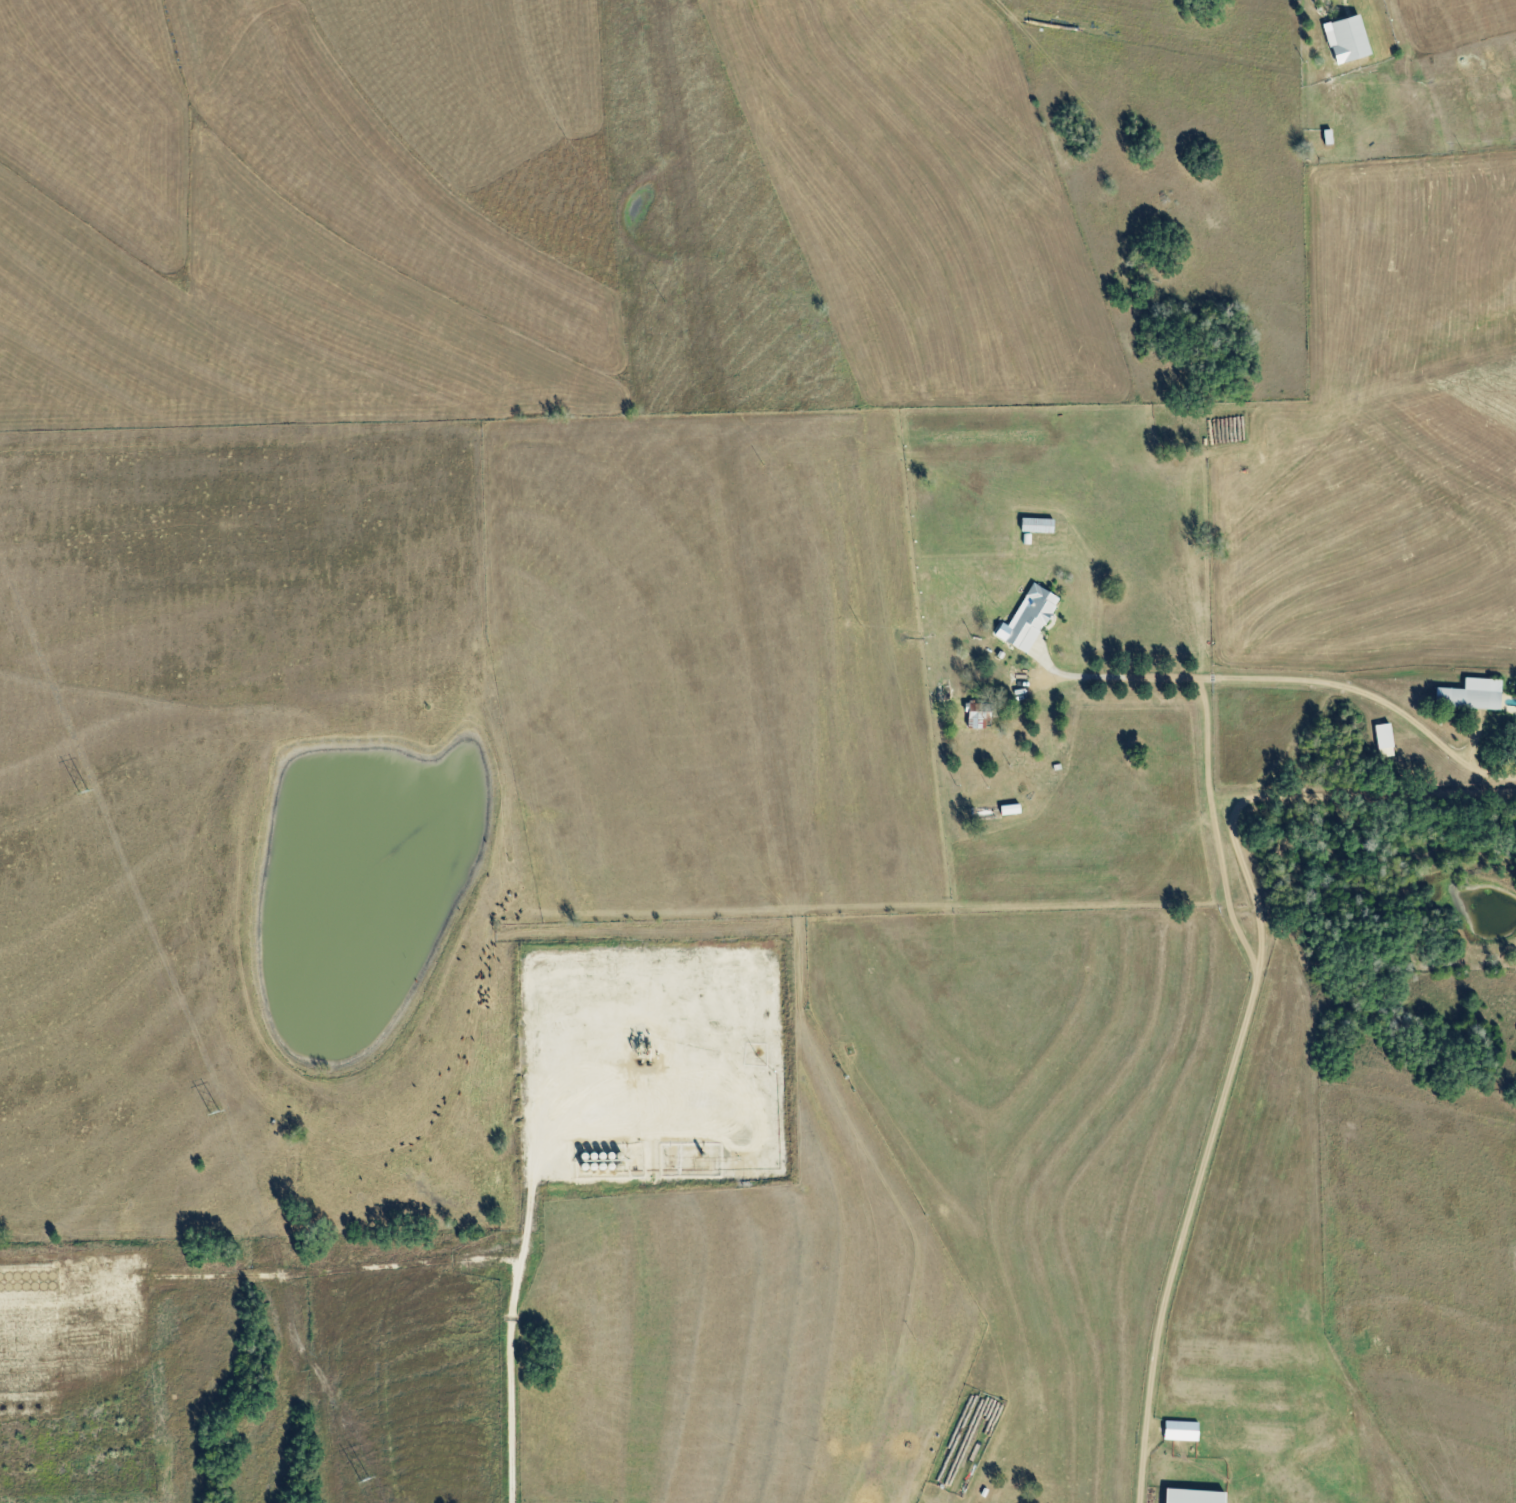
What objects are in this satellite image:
building: (1348, 40)
building: (1028, 619)
road: (1286, 677)
building: (1471, 694)
building: (978, 716)
building: (1384, 740)
power tower: (82, 794)
building: (1010, 809)
road: (1242, 1014)
power tower: (216, 1115)
building: (1181, 1431)
power tower: (362, 1481)
building: (1194, 1496)

